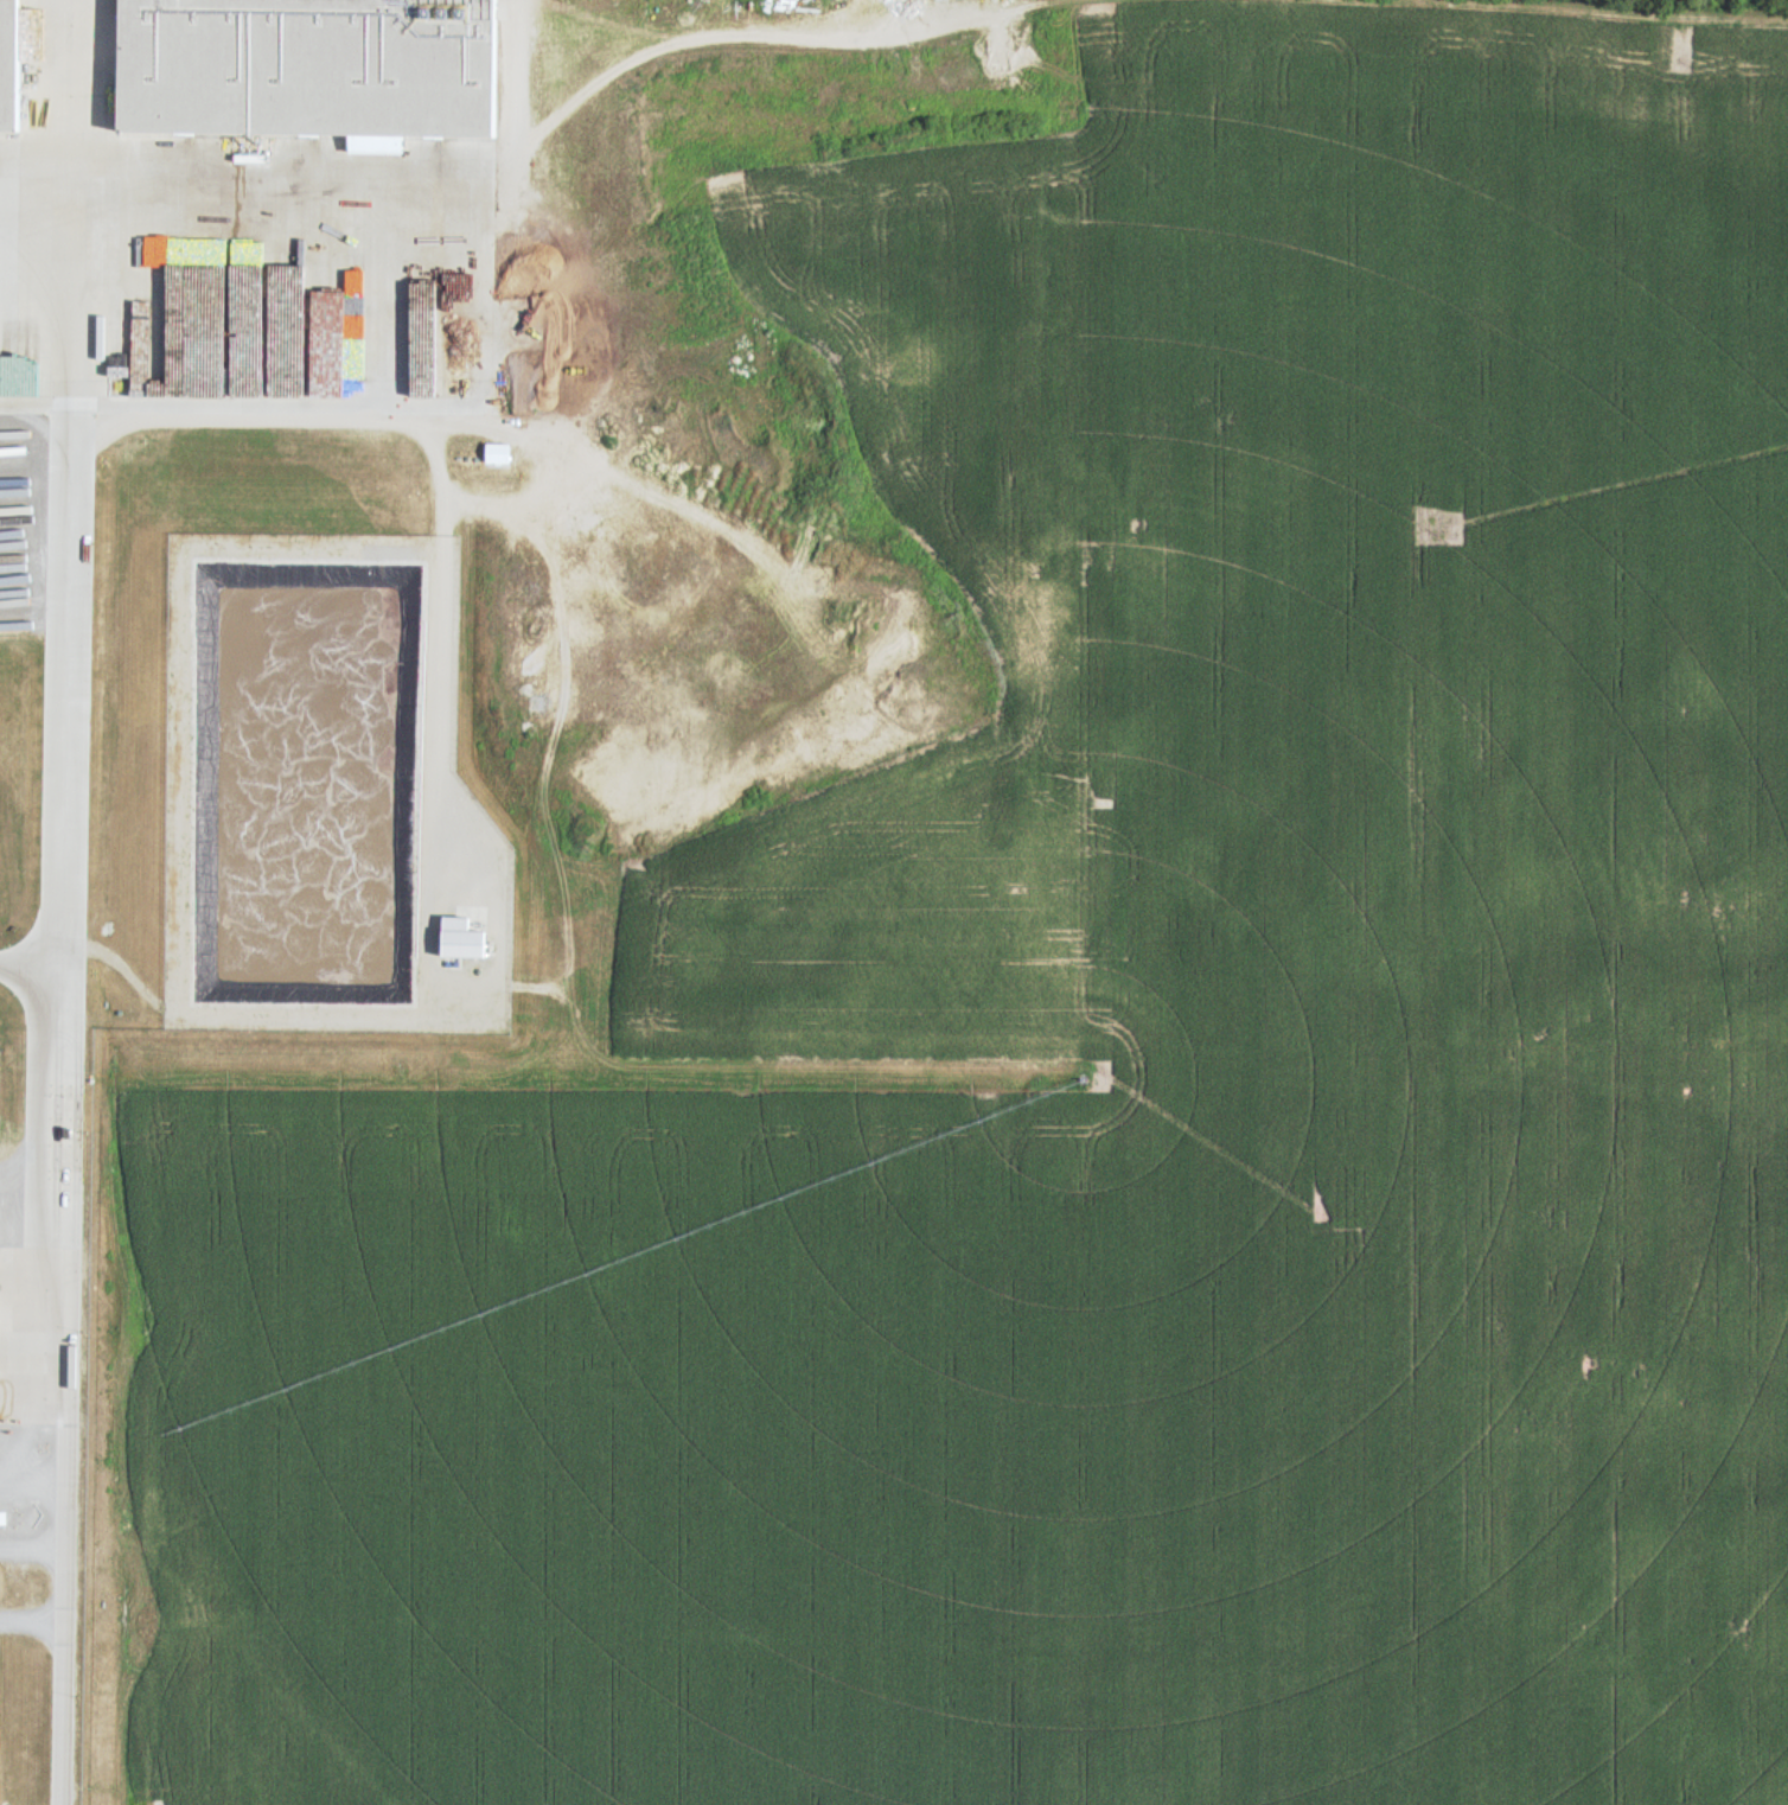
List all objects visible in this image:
road: (31, 970)
road: (62, 983)
road: (31, 1184)
road: (30, 1632)

